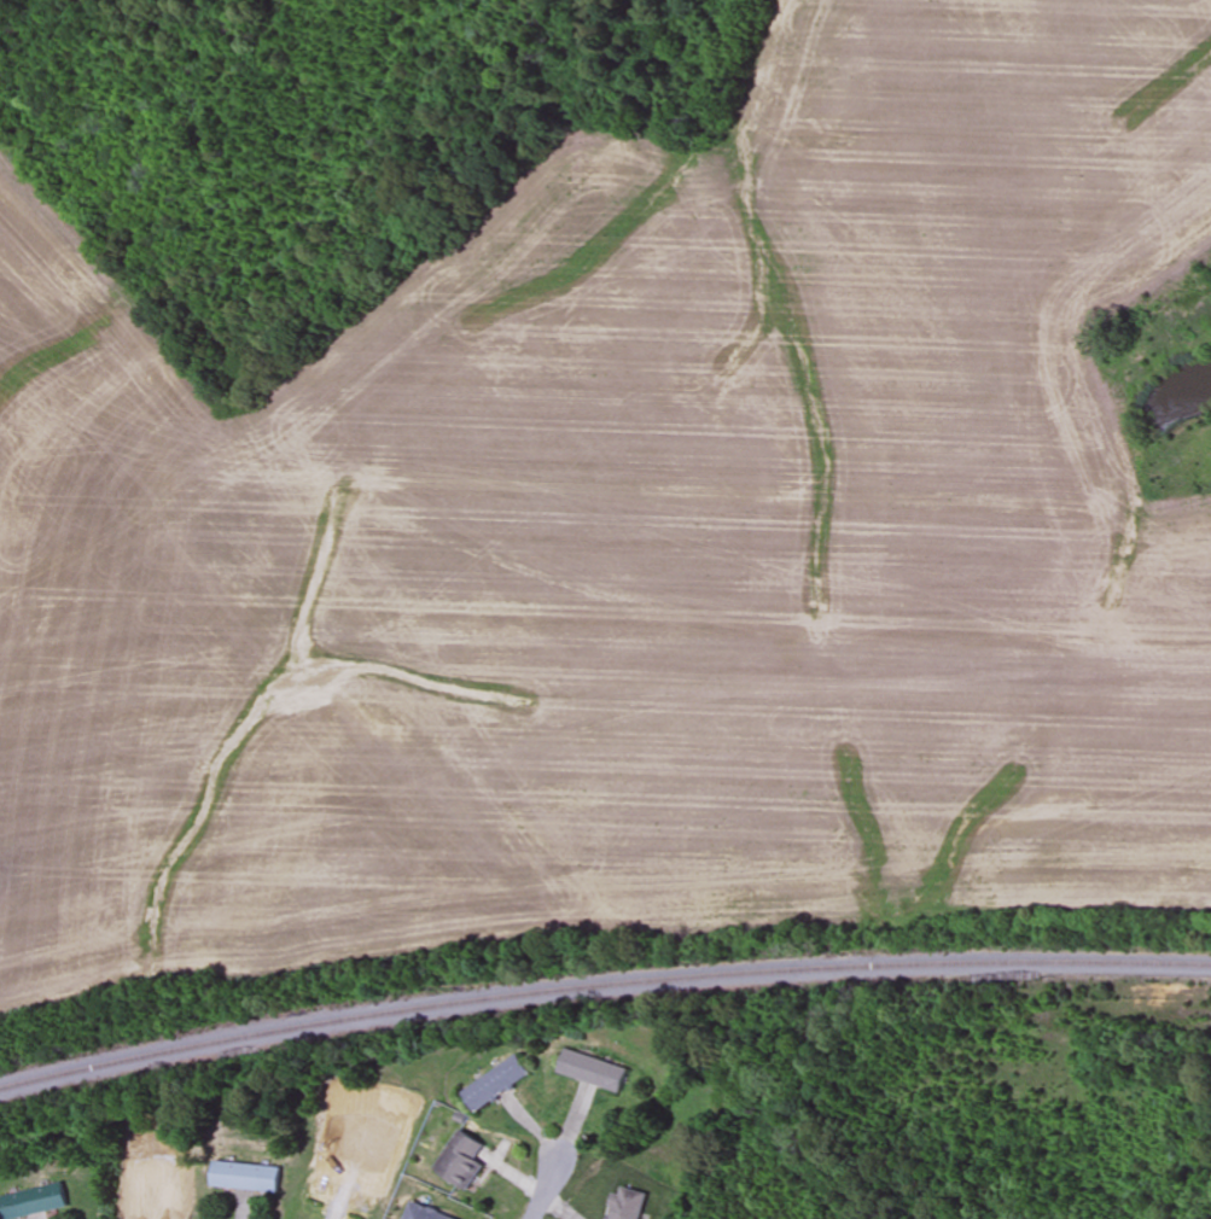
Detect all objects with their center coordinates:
railway: (600, 984)
building: (593, 1069)
building: (496, 1083)
building: (462, 1159)
building: (245, 1177)
road: (545, 1190)
building: (340, 1197)
building: (35, 1201)
building: (627, 1203)
building: (425, 1213)

